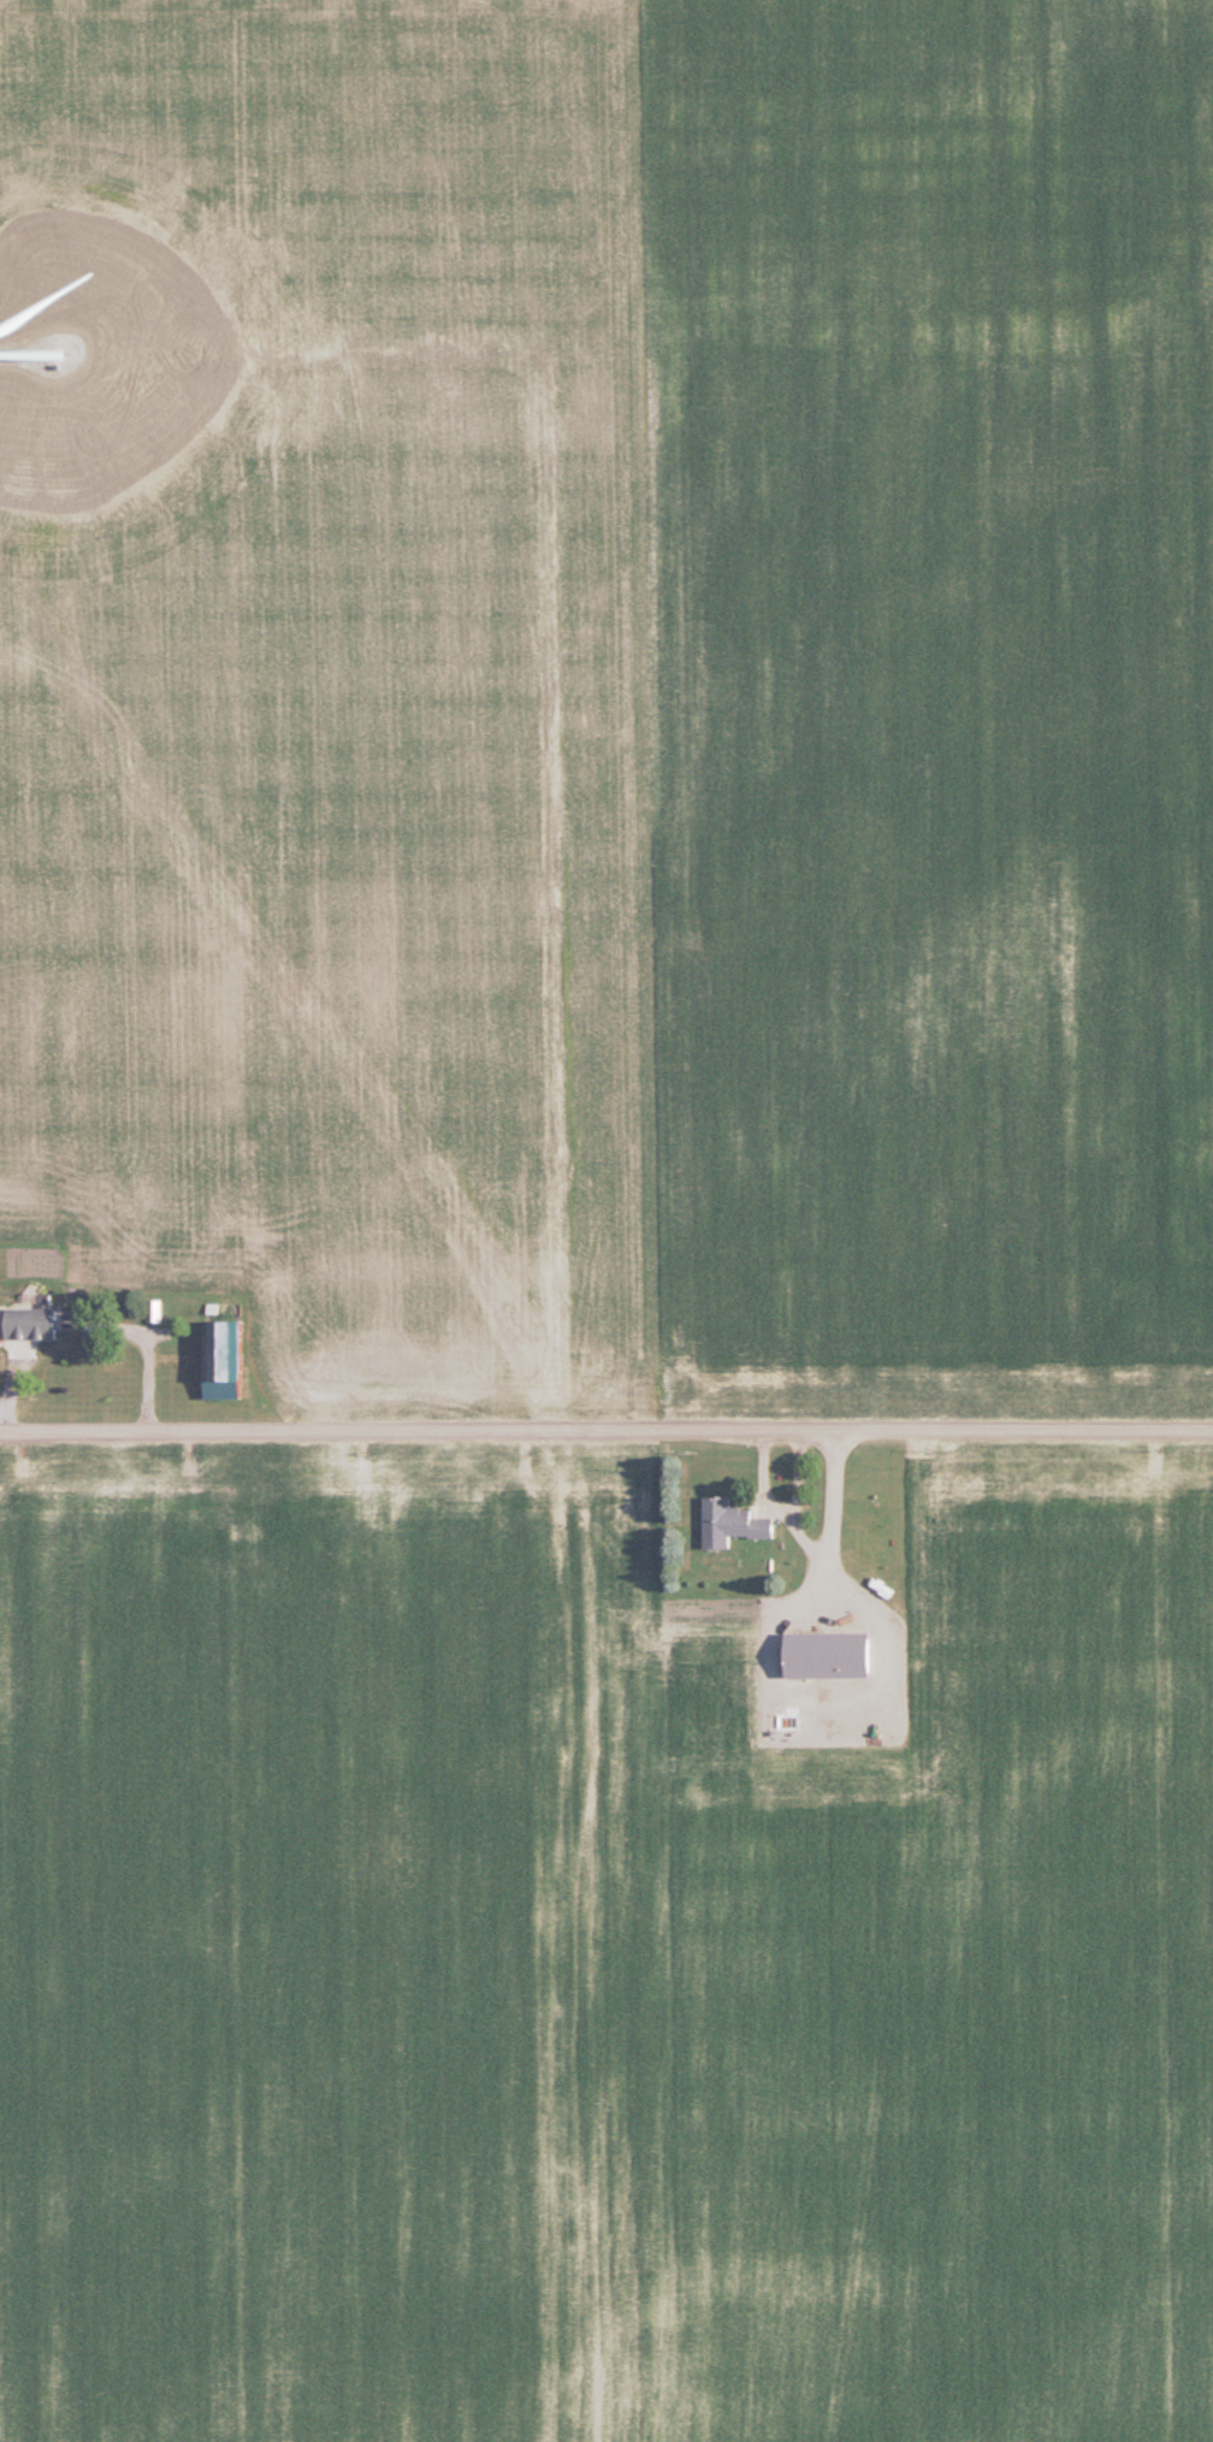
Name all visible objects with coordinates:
wind turbine: (75, 362)
building: (26, 1323)
building: (221, 1360)
road: (606, 1433)
building: (265, 1502)
building: (729, 1522)
building: (827, 1654)

